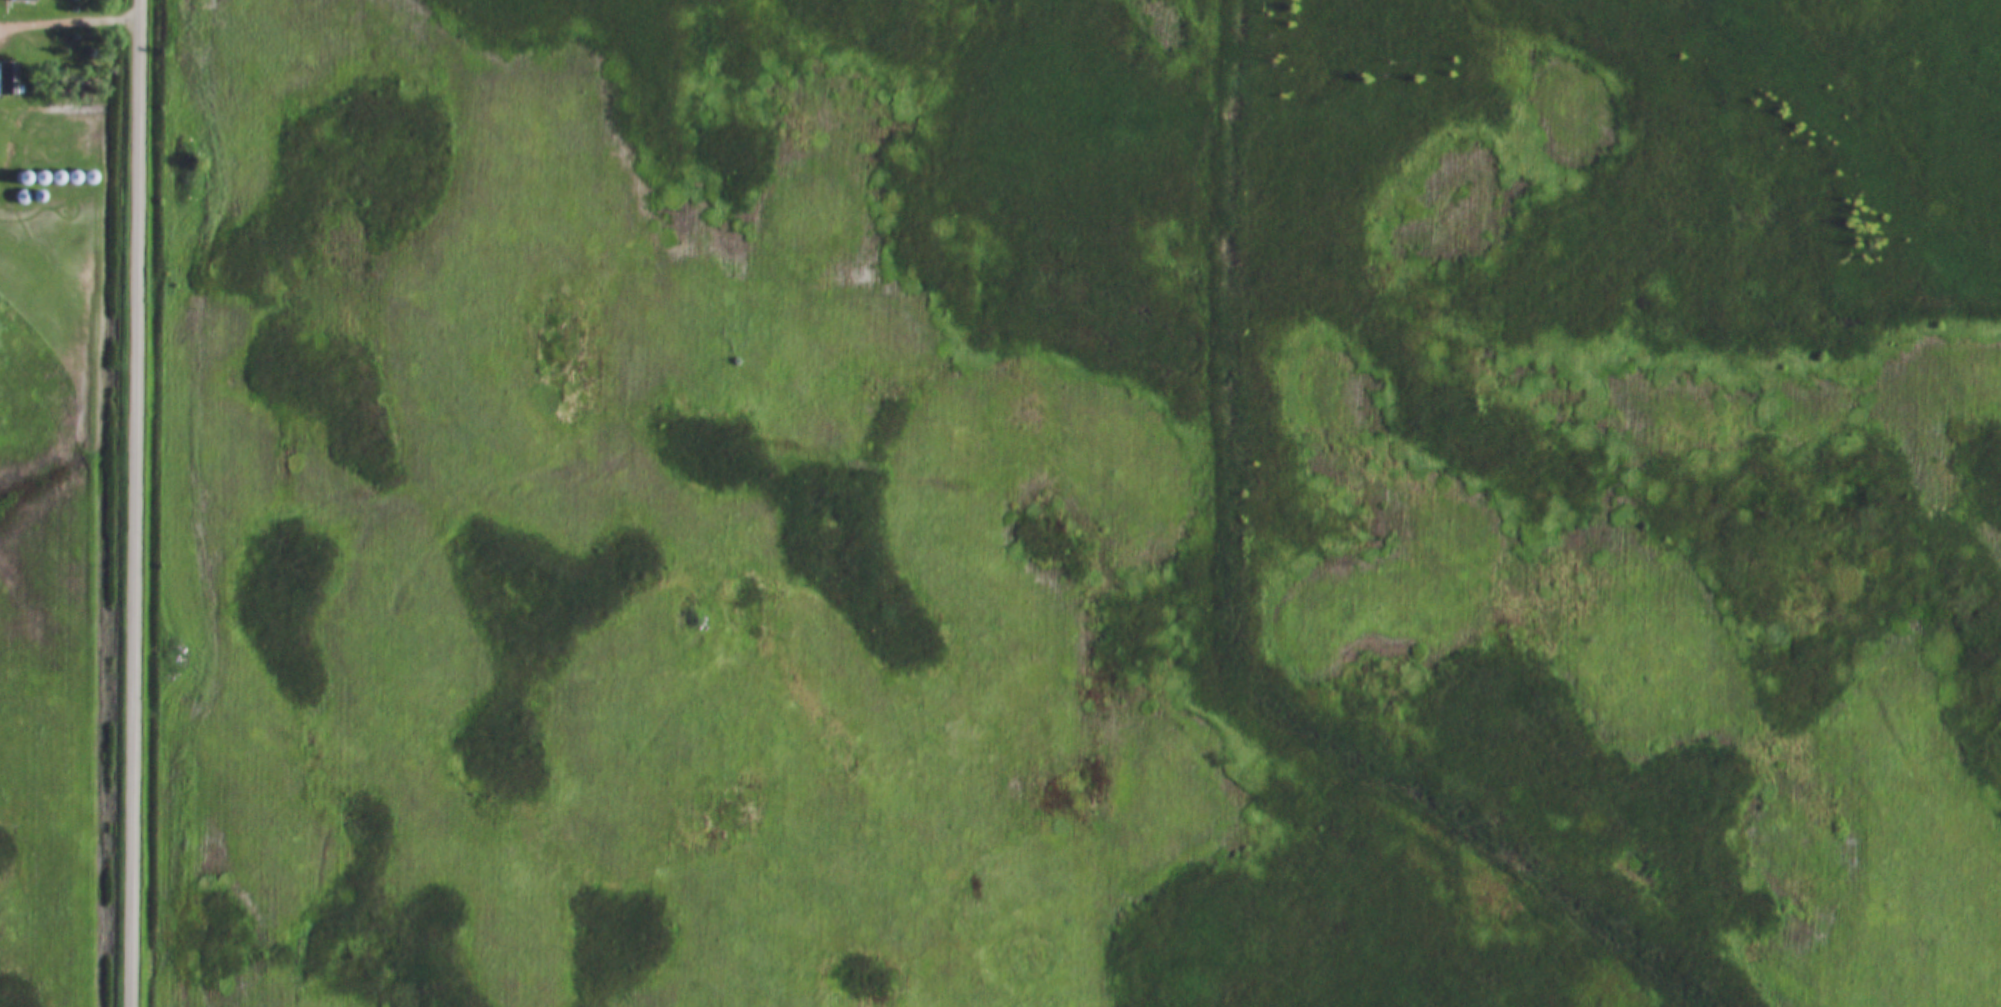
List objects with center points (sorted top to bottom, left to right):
building: (21, 1)
road: (72, 21)
building: (7, 79)
road: (141, 503)

